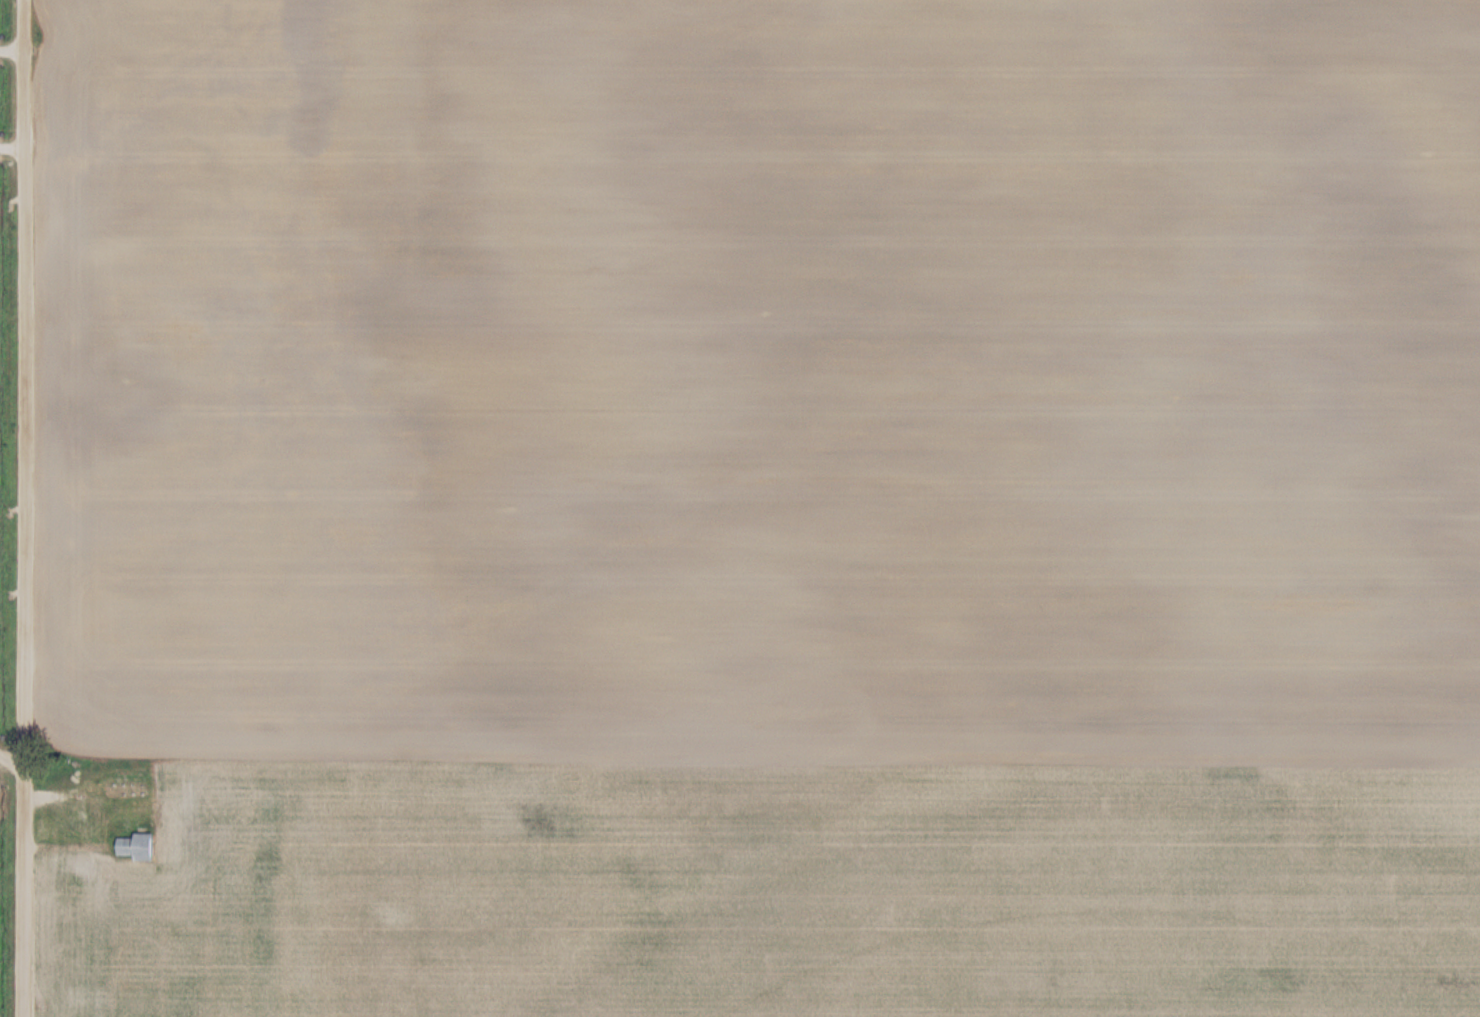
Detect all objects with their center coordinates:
road: (23, 508)
building: (140, 846)

